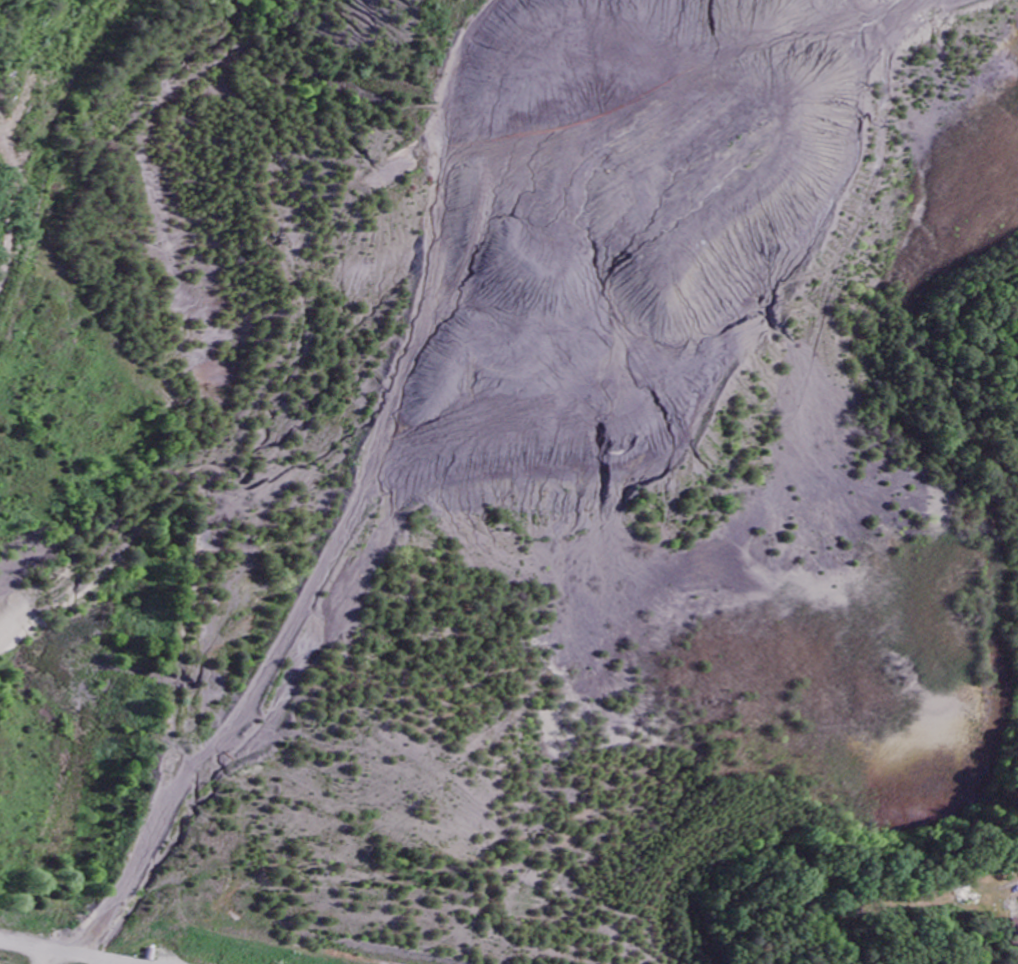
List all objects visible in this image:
road: (929, 353)
road: (326, 876)
building: (1013, 932)
road: (58, 952)
road: (42, 957)

